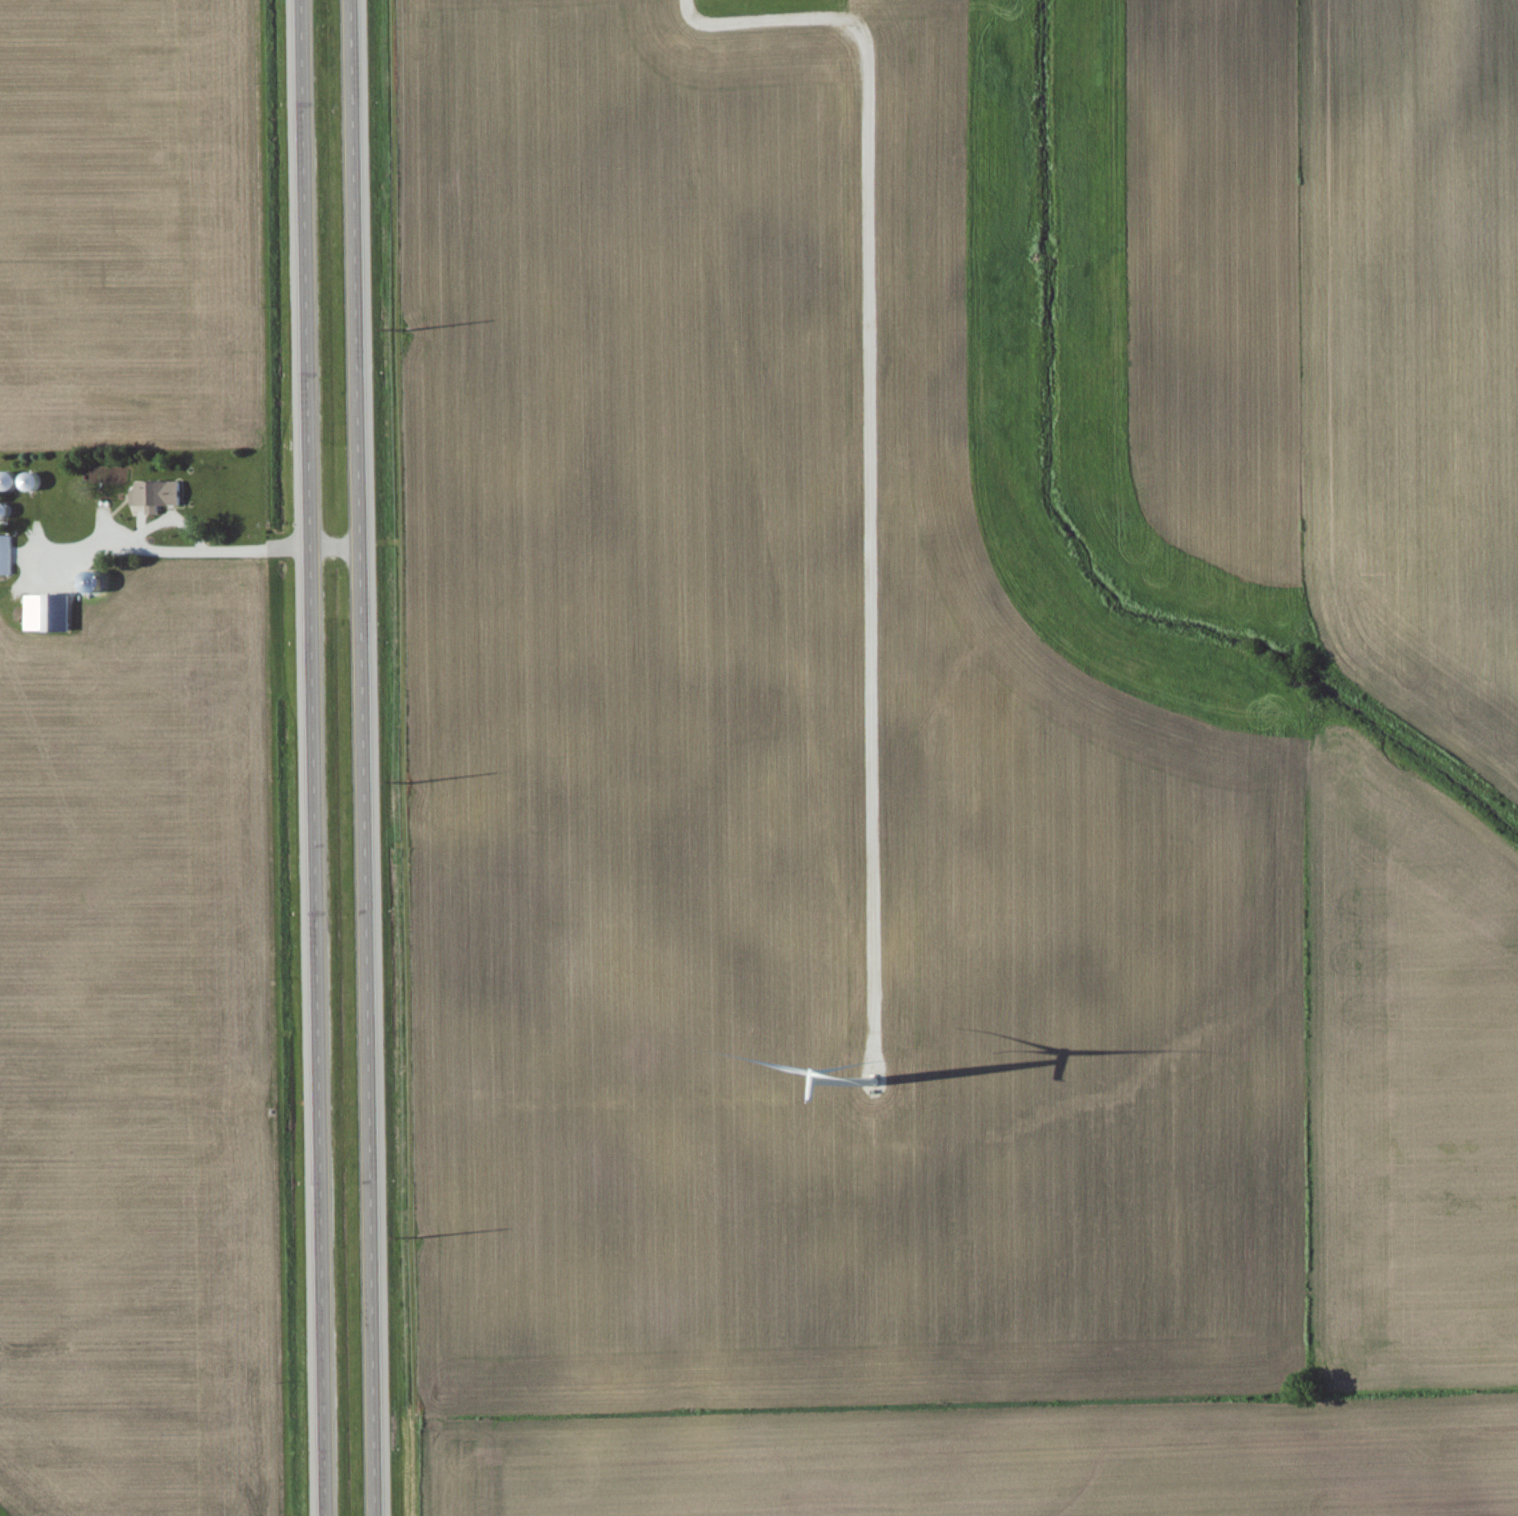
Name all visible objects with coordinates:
power tower: (407, 329)
road: (869, 432)
building: (159, 494)
road: (336, 547)
road: (181, 551)
building: (7, 554)
building: (47, 613)
road: (313, 757)
road: (365, 757)
power tower: (407, 779)
wind turbine: (874, 1085)
power tower: (420, 1235)

